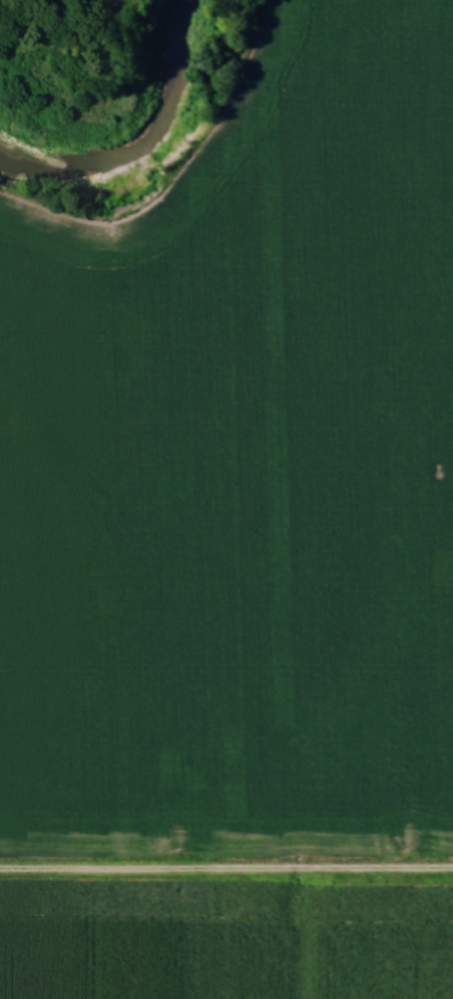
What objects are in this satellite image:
river: (136, 131)
road: (226, 868)

